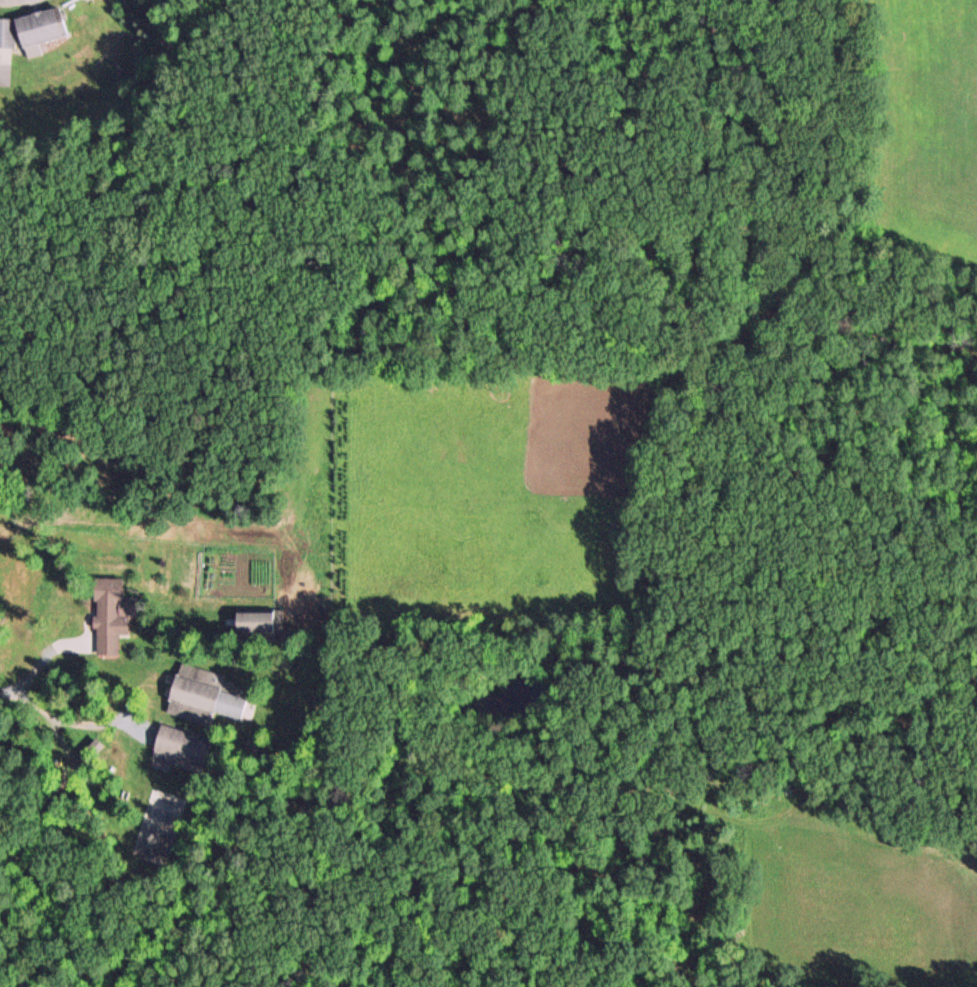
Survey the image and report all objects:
building: (31, 27)
building: (108, 616)
building: (259, 623)
building: (206, 695)
building: (181, 748)

